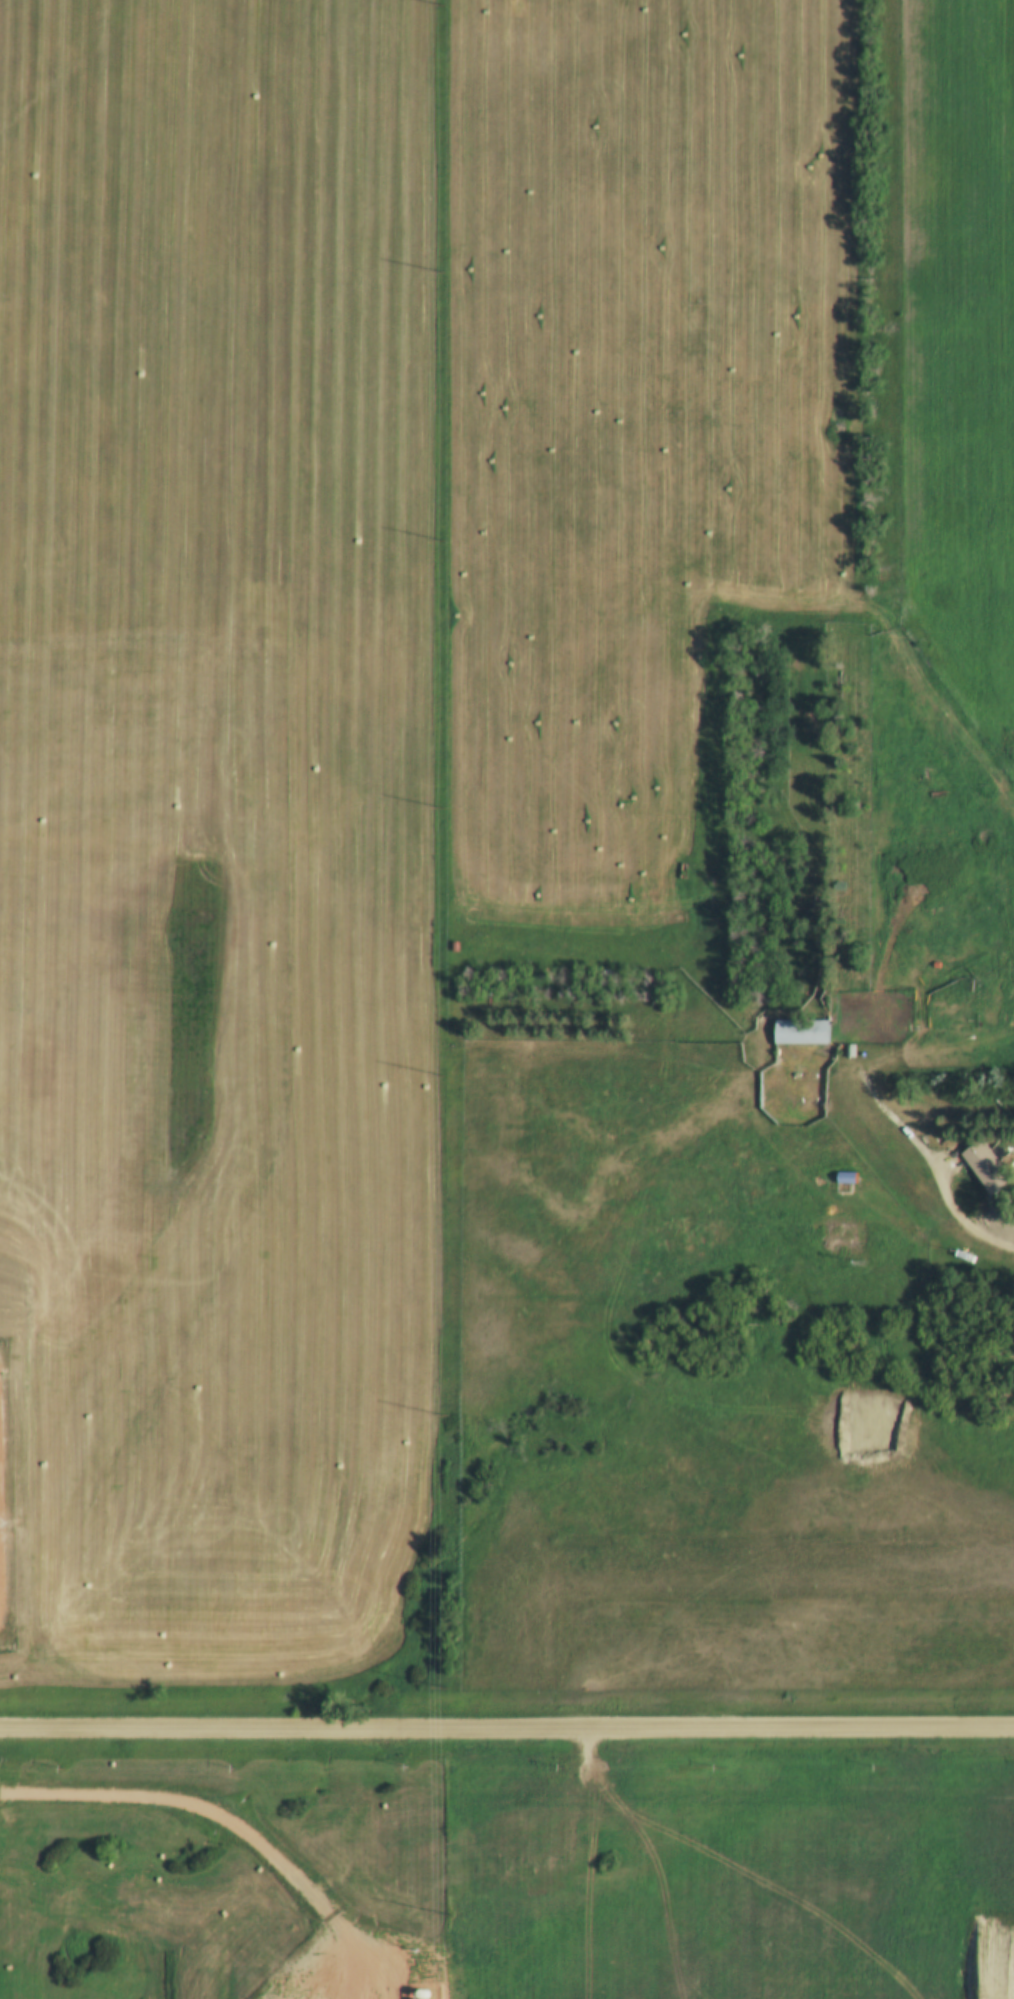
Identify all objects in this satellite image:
building: (799, 1031)
road: (885, 1061)
building: (985, 1166)
building: (844, 1177)
road: (961, 1221)
road: (507, 1733)
road: (721, 1860)

